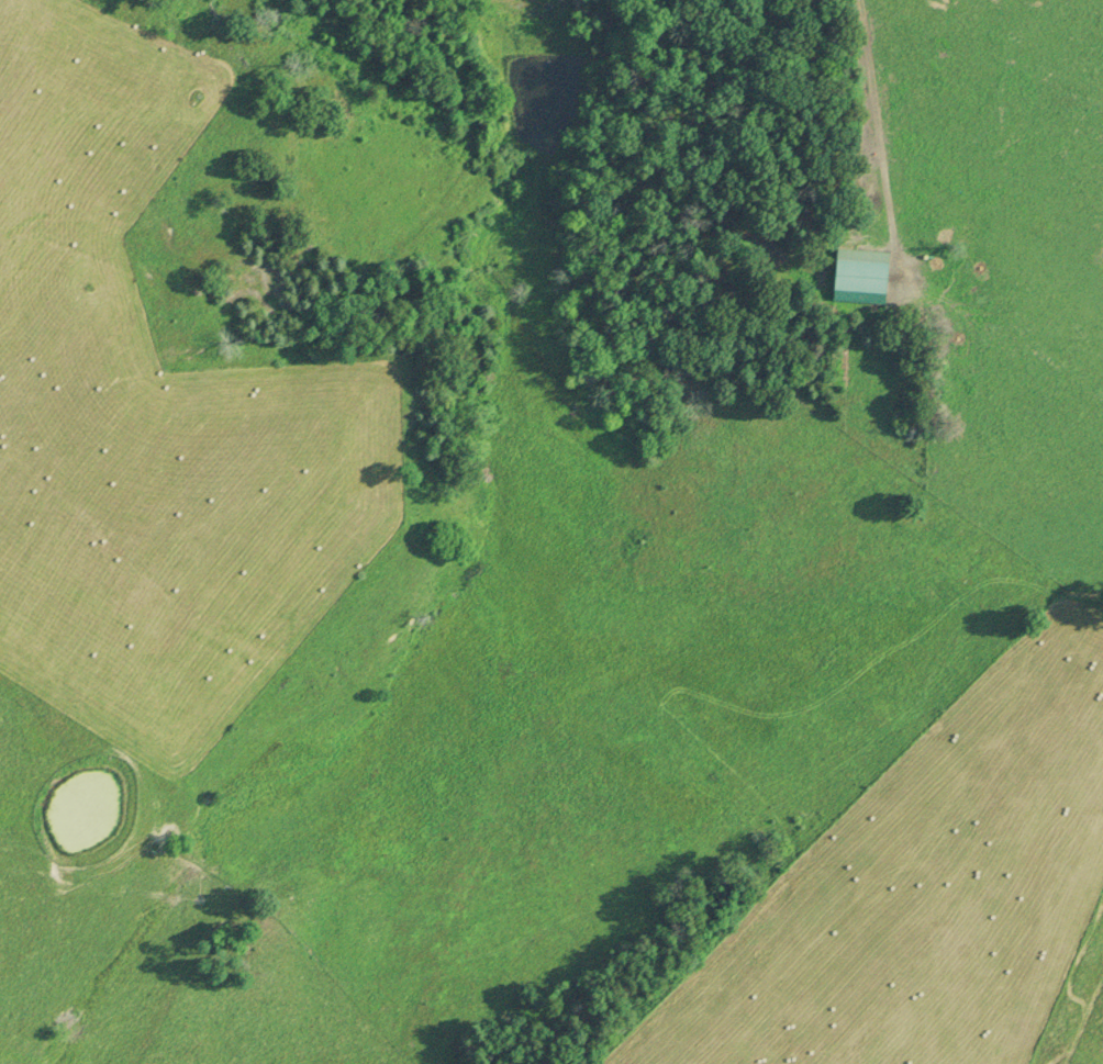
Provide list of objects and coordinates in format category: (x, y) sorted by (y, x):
building: (857, 276)

